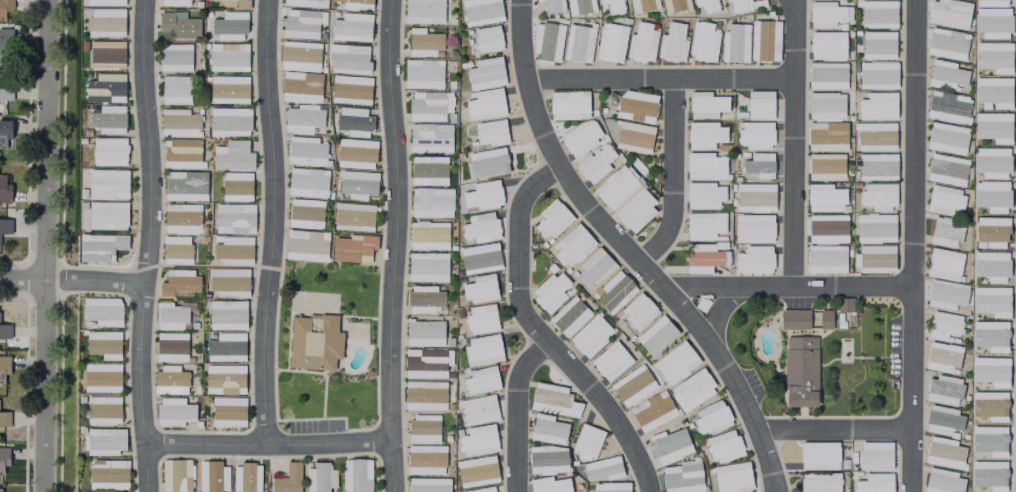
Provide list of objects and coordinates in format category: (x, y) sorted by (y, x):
building: (194, 0)
building: (1006, 0)
building: (104, 3)
building: (174, 3)
building: (299, 3)
building: (705, 3)
building: (4, 4)
building: (737, 4)
building: (241, 5)
building: (353, 5)
building: (643, 5)
building: (551, 6)
building: (675, 6)
building: (580, 7)
building: (613, 7)
building: (825, 11)
building: (423, 12)
building: (480, 12)
building: (876, 12)
building: (947, 12)
building: (991, 22)
building: (105, 24)
building: (302, 25)
building: (178, 27)
building: (229, 27)
building: (352, 28)
building: (4, 37)
building: (762, 37)
building: (732, 39)
building: (488, 40)
building: (944, 40)
building: (699, 41)
building: (825, 42)
building: (875, 42)
building: (547, 43)
building: (423, 44)
building: (611, 44)
building: (641, 44)
building: (579, 45)
building: (672, 45)
building: (105, 56)
building: (299, 57)
building: (991, 57)
building: (227, 58)
building: (174, 59)
building: (348, 60)
building: (465, 65)
building: (943, 71)
building: (874, 72)
building: (824, 73)
building: (422, 75)
building: (485, 75)
road: (659, 80)
building: (451, 86)
building: (4, 87)
road: (526, 87)
building: (105, 88)
building: (300, 88)
building: (175, 91)
building: (227, 91)
building: (350, 91)
building: (991, 91)
building: (756, 101)
building: (705, 102)
building: (823, 102)
building: (873, 102)
building: (945, 104)
building: (485, 106)
building: (569, 106)
building: (428, 107)
building: (636, 107)
building: (451, 118)
building: (301, 120)
building: (107, 121)
building: (228, 122)
building: (177, 123)
building: (354, 123)
building: (2, 125)
building: (990, 127)
building: (703, 131)
building: (752, 132)
building: (824, 133)
building: (873, 133)
building: (492, 134)
building: (944, 134)
building: (634, 139)
building: (430, 140)
building: (581, 140)
road: (795, 144)
building: (305, 152)
building: (108, 153)
building: (355, 154)
building: (183, 155)
building: (232, 158)
building: (989, 161)
building: (756, 162)
building: (703, 163)
building: (491, 164)
building: (822, 164)
building: (874, 164)
building: (595, 165)
building: (944, 166)
building: (428, 172)
road: (674, 178)
building: (459, 181)
building: (108, 184)
building: (307, 184)
building: (357, 185)
building: (3, 187)
building: (235, 187)
building: (185, 188)
building: (615, 188)
building: (702, 193)
building: (751, 194)
building: (874, 194)
building: (822, 195)
building: (990, 196)
building: (483, 197)
building: (942, 197)
building: (431, 204)
building: (635, 211)
building: (305, 215)
building: (107, 217)
building: (353, 218)
building: (181, 219)
building: (233, 220)
building: (552, 221)
building: (5, 222)
building: (703, 222)
road: (272, 223)
building: (872, 224)
building: (749, 225)
building: (824, 225)
building: (480, 229)
building: (942, 230)
building: (990, 231)
building: (428, 237)
building: (304, 244)
road: (42, 245)
road: (394, 245)
road: (147, 246)
road: (912, 246)
building: (572, 247)
building: (99, 249)
building: (353, 249)
building: (175, 251)
building: (233, 252)
building: (700, 255)
building: (823, 255)
building: (873, 256)
building: (750, 257)
building: (479, 260)
building: (941, 260)
building: (990, 265)
building: (427, 268)
building: (595, 269)
road: (72, 281)
building: (181, 282)
building: (229, 284)
road: (707, 289)
building: (480, 291)
building: (943, 291)
building: (550, 294)
building: (615, 294)
building: (424, 300)
building: (991, 301)
building: (841, 302)
road: (714, 310)
building: (99, 313)
building: (638, 313)
building: (226, 316)
building: (170, 317)
building: (792, 317)
building: (823, 317)
building: (568, 318)
building: (481, 321)
building: (941, 323)
road: (531, 325)
building: (4, 327)
building: (422, 335)
building: (658, 337)
building: (590, 338)
building: (314, 343)
building: (448, 344)
building: (103, 345)
building: (226, 348)
building: (171, 349)
building: (483, 352)
building: (939, 355)
building: (3, 363)
building: (611, 363)
building: (426, 364)
building: (676, 365)
building: (797, 368)
building: (991, 371)
building: (101, 379)
building: (223, 380)
building: (169, 382)
building: (481, 382)
road: (732, 382)
building: (632, 387)
building: (940, 387)
building: (693, 391)
building: (424, 396)
building: (552, 402)
road: (607, 410)
building: (102, 411)
building: (478, 411)
building: (228, 413)
building: (652, 413)
building: (173, 414)
building: (709, 415)
building: (940, 417)
building: (4, 422)
building: (423, 430)
road: (834, 431)
building: (548, 432)
building: (104, 442)
building: (586, 442)
building: (478, 443)
building: (721, 444)
road: (268, 447)
building: (668, 447)
building: (941, 450)
building: (815, 453)
building: (872, 453)
building: (2, 456)
building: (425, 461)
building: (547, 461)
building: (602, 470)
building: (476, 473)
building: (729, 475)
building: (108, 476)
building: (357, 476)
building: (175, 477)
building: (212, 478)
building: (246, 478)
building: (680, 478)
building: (319, 479)
building: (288, 480)
building: (939, 480)
building: (817, 481)
building: (871, 481)
building: (428, 486)
building: (548, 486)
building: (614, 487)
building: (0, 490)
building: (486, 490)

